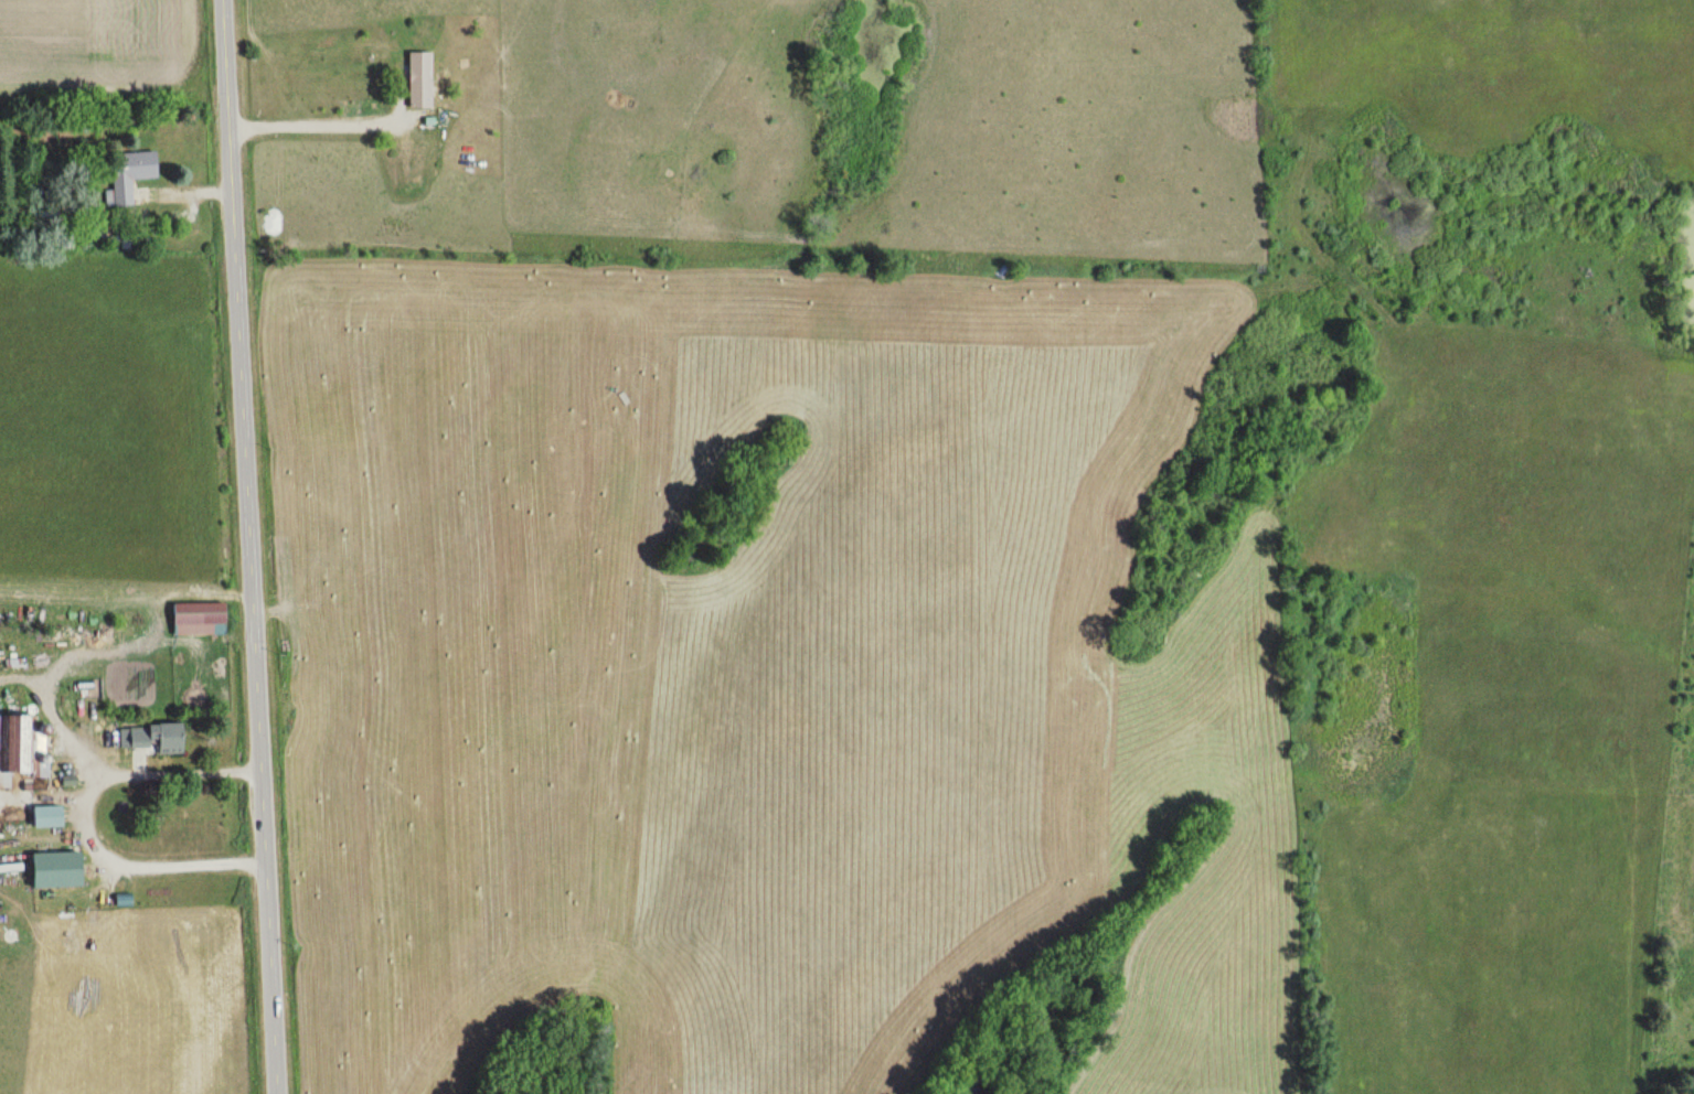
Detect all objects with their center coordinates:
building: (422, 81)
building: (130, 174)
road: (245, 547)
building: (200, 620)
building: (152, 739)
building: (17, 747)
building: (49, 817)
building: (58, 870)

